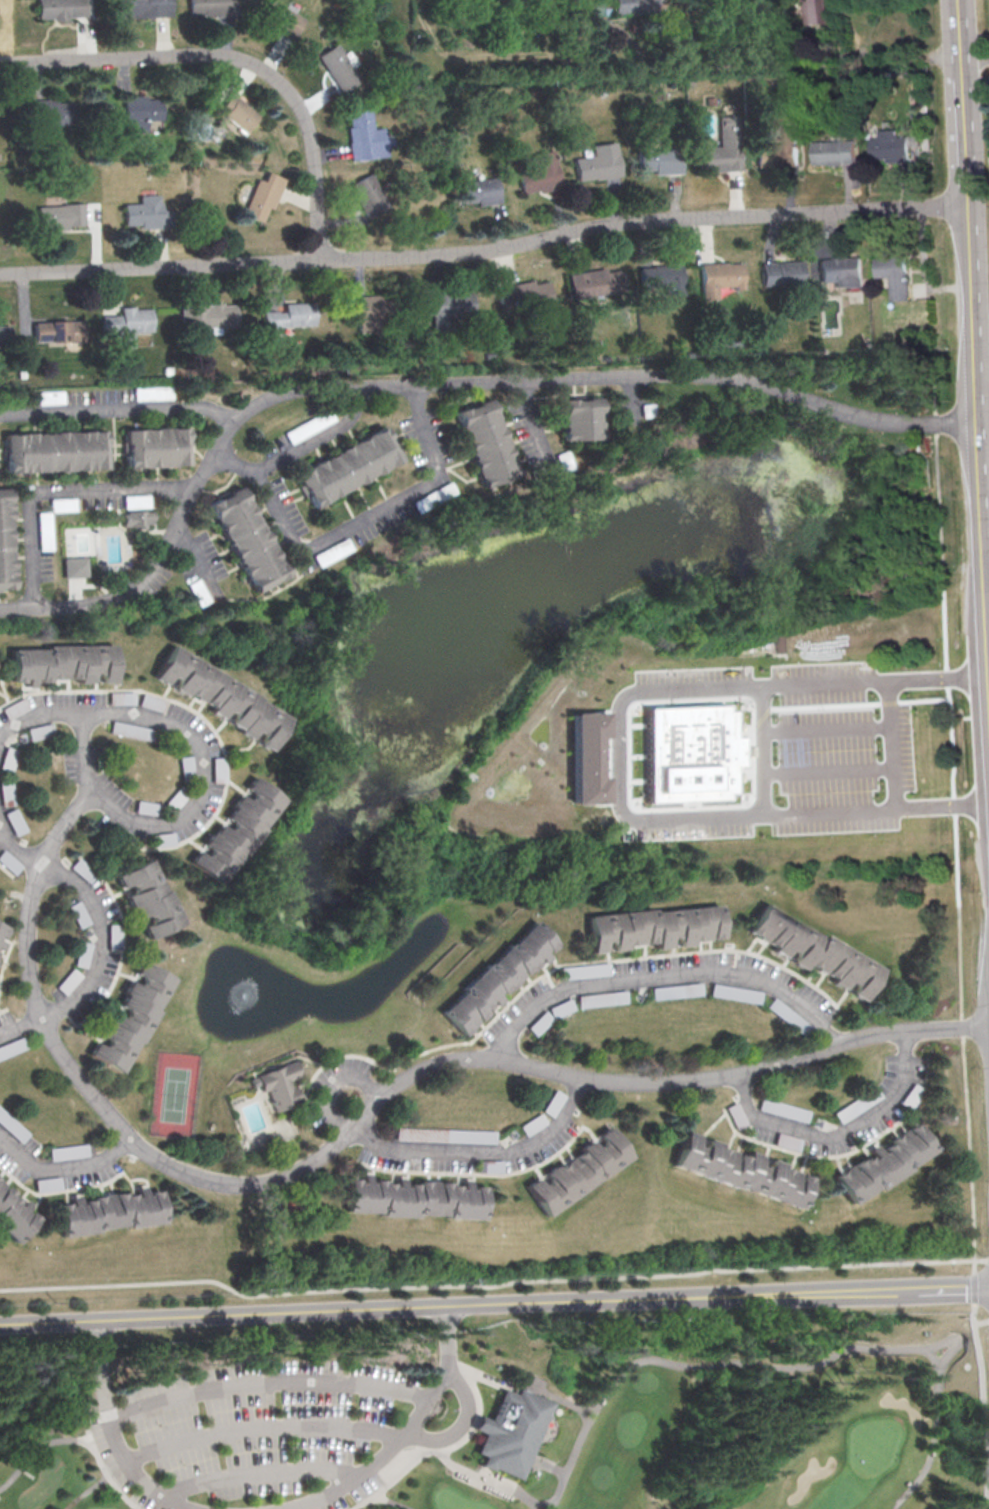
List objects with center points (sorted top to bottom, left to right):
building: (153, 7)
building: (213, 7)
building: (598, 7)
building: (632, 7)
building: (62, 8)
building: (815, 10)
building: (282, 19)
road: (974, 57)
road: (238, 60)
road: (789, 61)
building: (341, 65)
road: (975, 79)
building: (53, 110)
building: (139, 111)
building: (239, 111)
building: (365, 137)
building: (887, 145)
building: (781, 148)
building: (720, 151)
building: (831, 151)
building: (657, 160)
building: (597, 162)
building: (536, 171)
building: (479, 190)
building: (369, 195)
building: (262, 196)
building: (148, 212)
building: (63, 215)
road: (484, 251)
building: (840, 269)
building: (781, 272)
building: (892, 273)
building: (718, 274)
building: (660, 276)
building: (595, 280)
building: (524, 292)
building: (450, 302)
building: (374, 312)
building: (210, 314)
building: (291, 314)
building: (126, 324)
building: (59, 330)
building: (5, 335)
road: (973, 352)
road: (508, 381)
building: (153, 393)
road: (630, 394)
building: (50, 397)
road: (526, 407)
road: (119, 410)
building: (583, 419)
building: (310, 425)
road: (315, 437)
building: (488, 440)
building: (159, 445)
building: (57, 451)
building: (349, 467)
road: (940, 479)
road: (57, 487)
building: (447, 489)
building: (137, 500)
building: (63, 504)
building: (139, 519)
building: (44, 523)
road: (353, 523)
building: (250, 538)
building: (7, 540)
park: (74, 551)
road: (195, 556)
building: (75, 567)
building: (199, 592)
road: (71, 606)
building: (782, 643)
building: (62, 662)
road: (766, 685)
building: (221, 696)
road: (37, 715)
building: (46, 729)
road: (894, 734)
road: (762, 752)
building: (688, 753)
parking lot: (740, 753)
building: (587, 757)
building: (8, 759)
road: (617, 759)
building: (185, 764)
building: (218, 769)
building: (6, 792)
building: (174, 799)
building: (145, 807)
road: (943, 807)
road: (188, 810)
road: (735, 819)
building: (14, 821)
building: (235, 830)
building: (160, 839)
building: (148, 897)
building: (78, 914)
building: (654, 926)
building: (1, 928)
road: (99, 934)
building: (113, 936)
building: (1, 943)
building: (813, 950)
building: (82, 953)
building: (493, 977)
road: (663, 977)
building: (68, 981)
building: (678, 990)
building: (736, 993)
building: (603, 998)
building: (131, 1016)
road: (966, 1074)
building: (277, 1085)
park: (175, 1095)
building: (784, 1109)
road: (358, 1115)
road: (841, 1133)
building: (468, 1135)
road: (423, 1150)
building: (68, 1152)
building: (882, 1163)
building: (489, 1165)
road: (61, 1168)
building: (740, 1168)
building: (578, 1171)
building: (48, 1183)
building: (415, 1197)
building: (109, 1212)
building: (14, 1214)
road: (988, 1258)
road: (492, 1285)
road: (954, 1287)
road: (460, 1305)
road: (981, 1323)
road: (721, 1366)
road: (268, 1385)
road: (983, 1390)
road: (462, 1391)
road: (558, 1400)
park: (500, 1414)
road: (264, 1428)
road: (410, 1430)
road: (110, 1432)
building: (513, 1432)
parking lot: (263, 1434)
road: (934, 1437)
road: (36, 1453)
road: (551, 1466)
road: (261, 1474)
road: (106, 1477)
road: (485, 1479)
road: (88, 1493)
road: (381, 1500)

